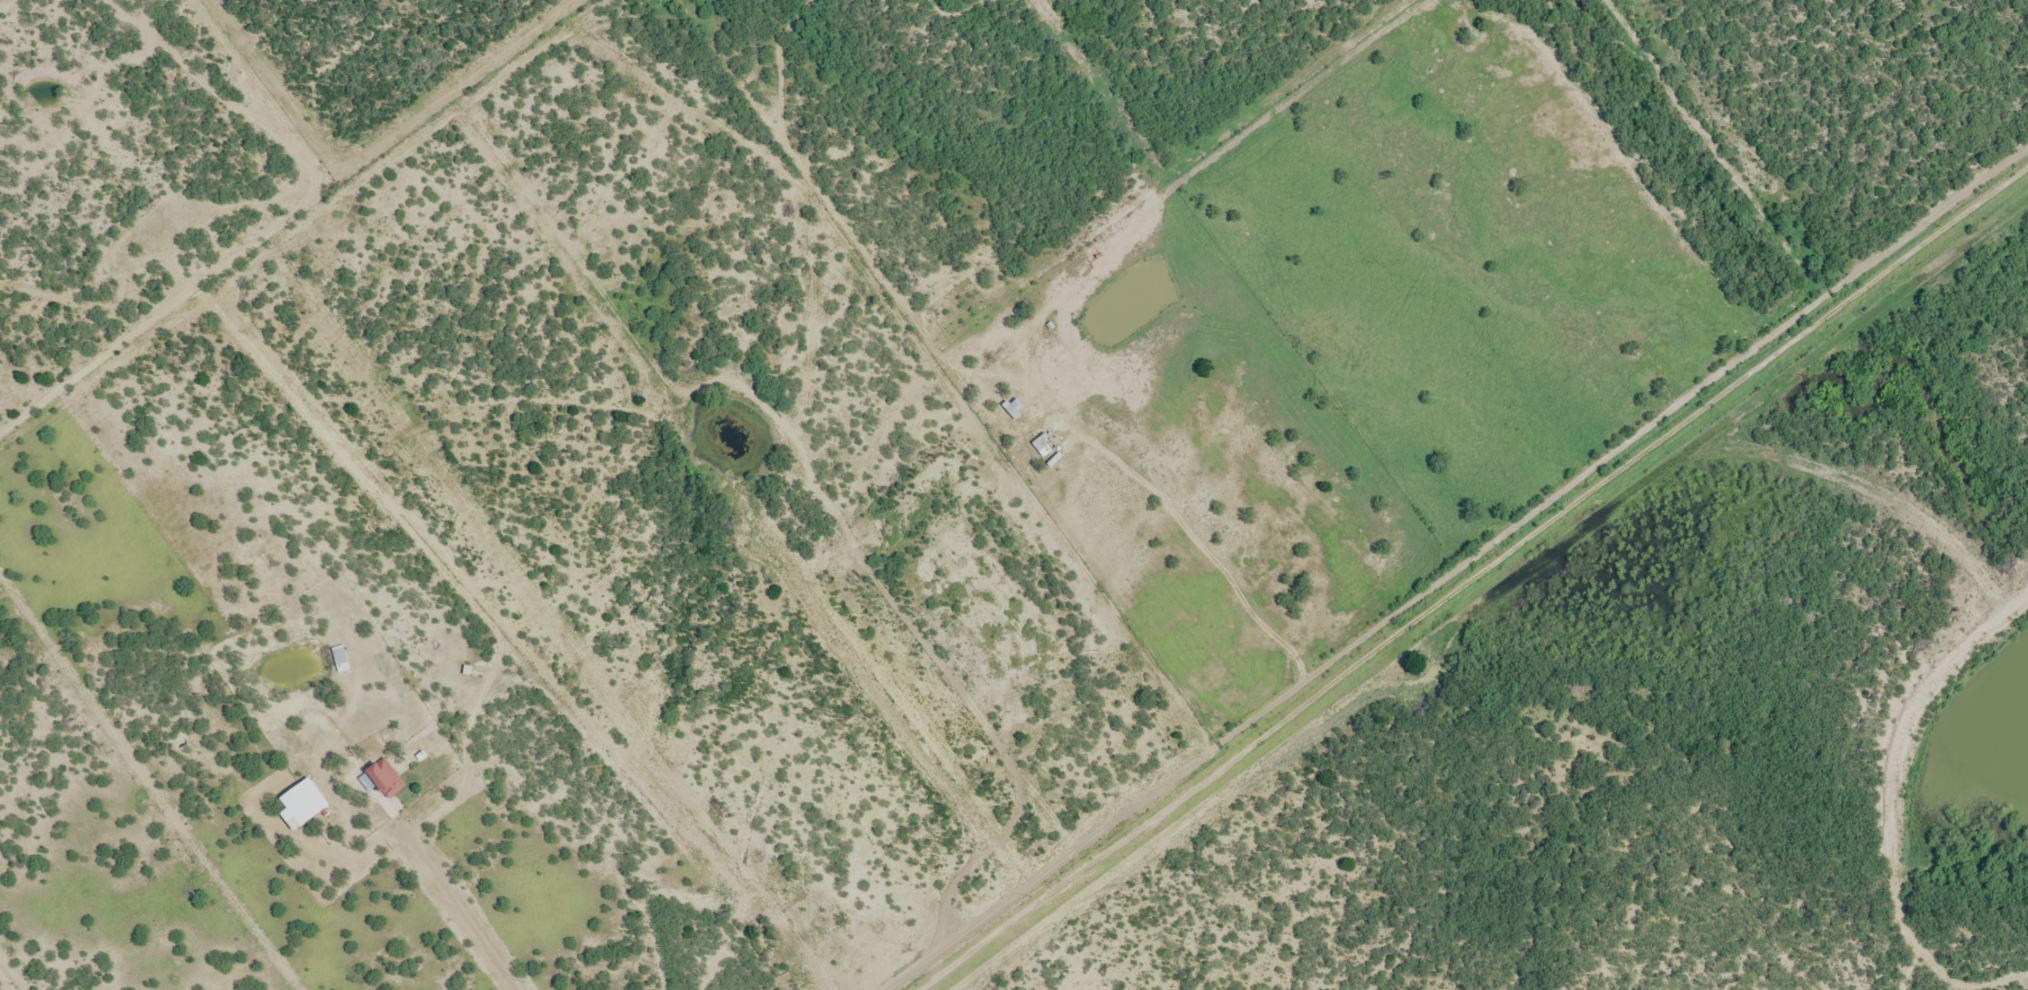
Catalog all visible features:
building: (1046, 445)
road: (1466, 579)
building: (341, 659)
building: (382, 778)
building: (303, 803)

